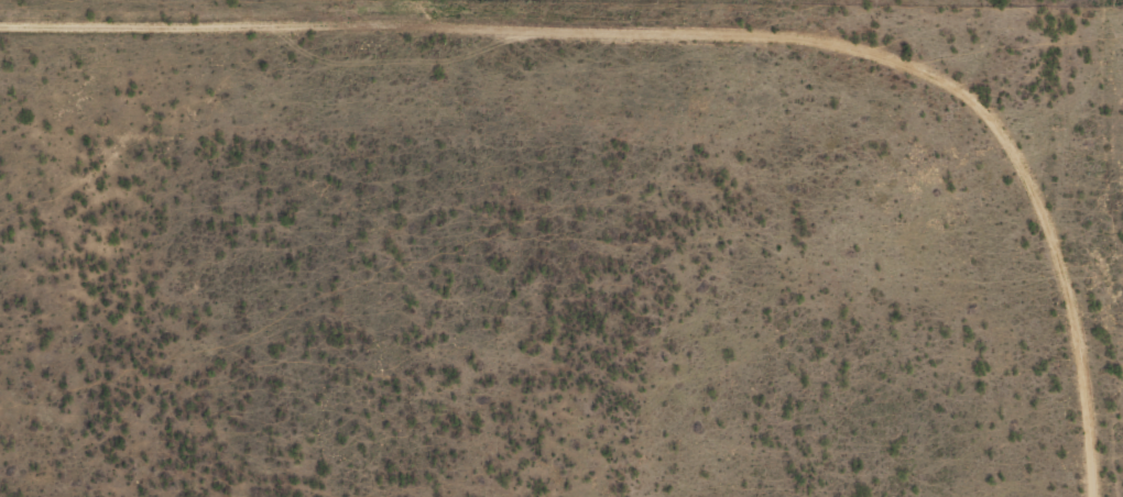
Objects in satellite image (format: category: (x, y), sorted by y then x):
road: (696, 89)

